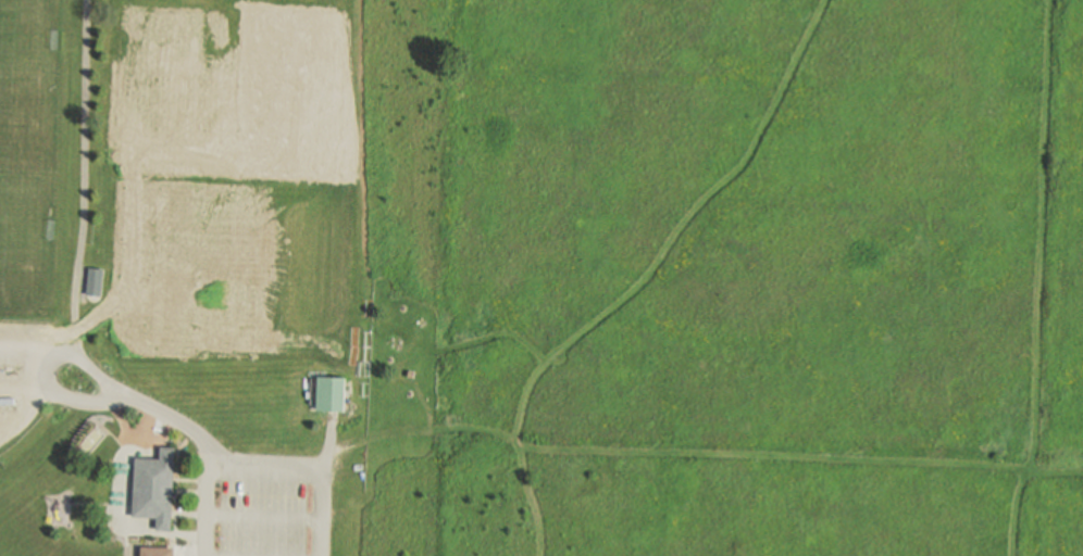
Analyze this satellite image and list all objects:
park: (300, 2)
park: (28, 63)
park: (229, 98)
road: (84, 177)
park: (26, 224)
park: (176, 276)
park: (234, 276)
road: (647, 278)
road: (1041, 279)
building: (95, 281)
road: (22, 342)
road: (444, 351)
road: (78, 355)
parking lot: (23, 372)
building: (331, 393)
road: (33, 397)
road: (328, 441)
road: (347, 444)
road: (722, 455)
road: (307, 467)
building: (155, 486)
parking lot: (260, 505)
road: (207, 509)
road: (262, 517)

